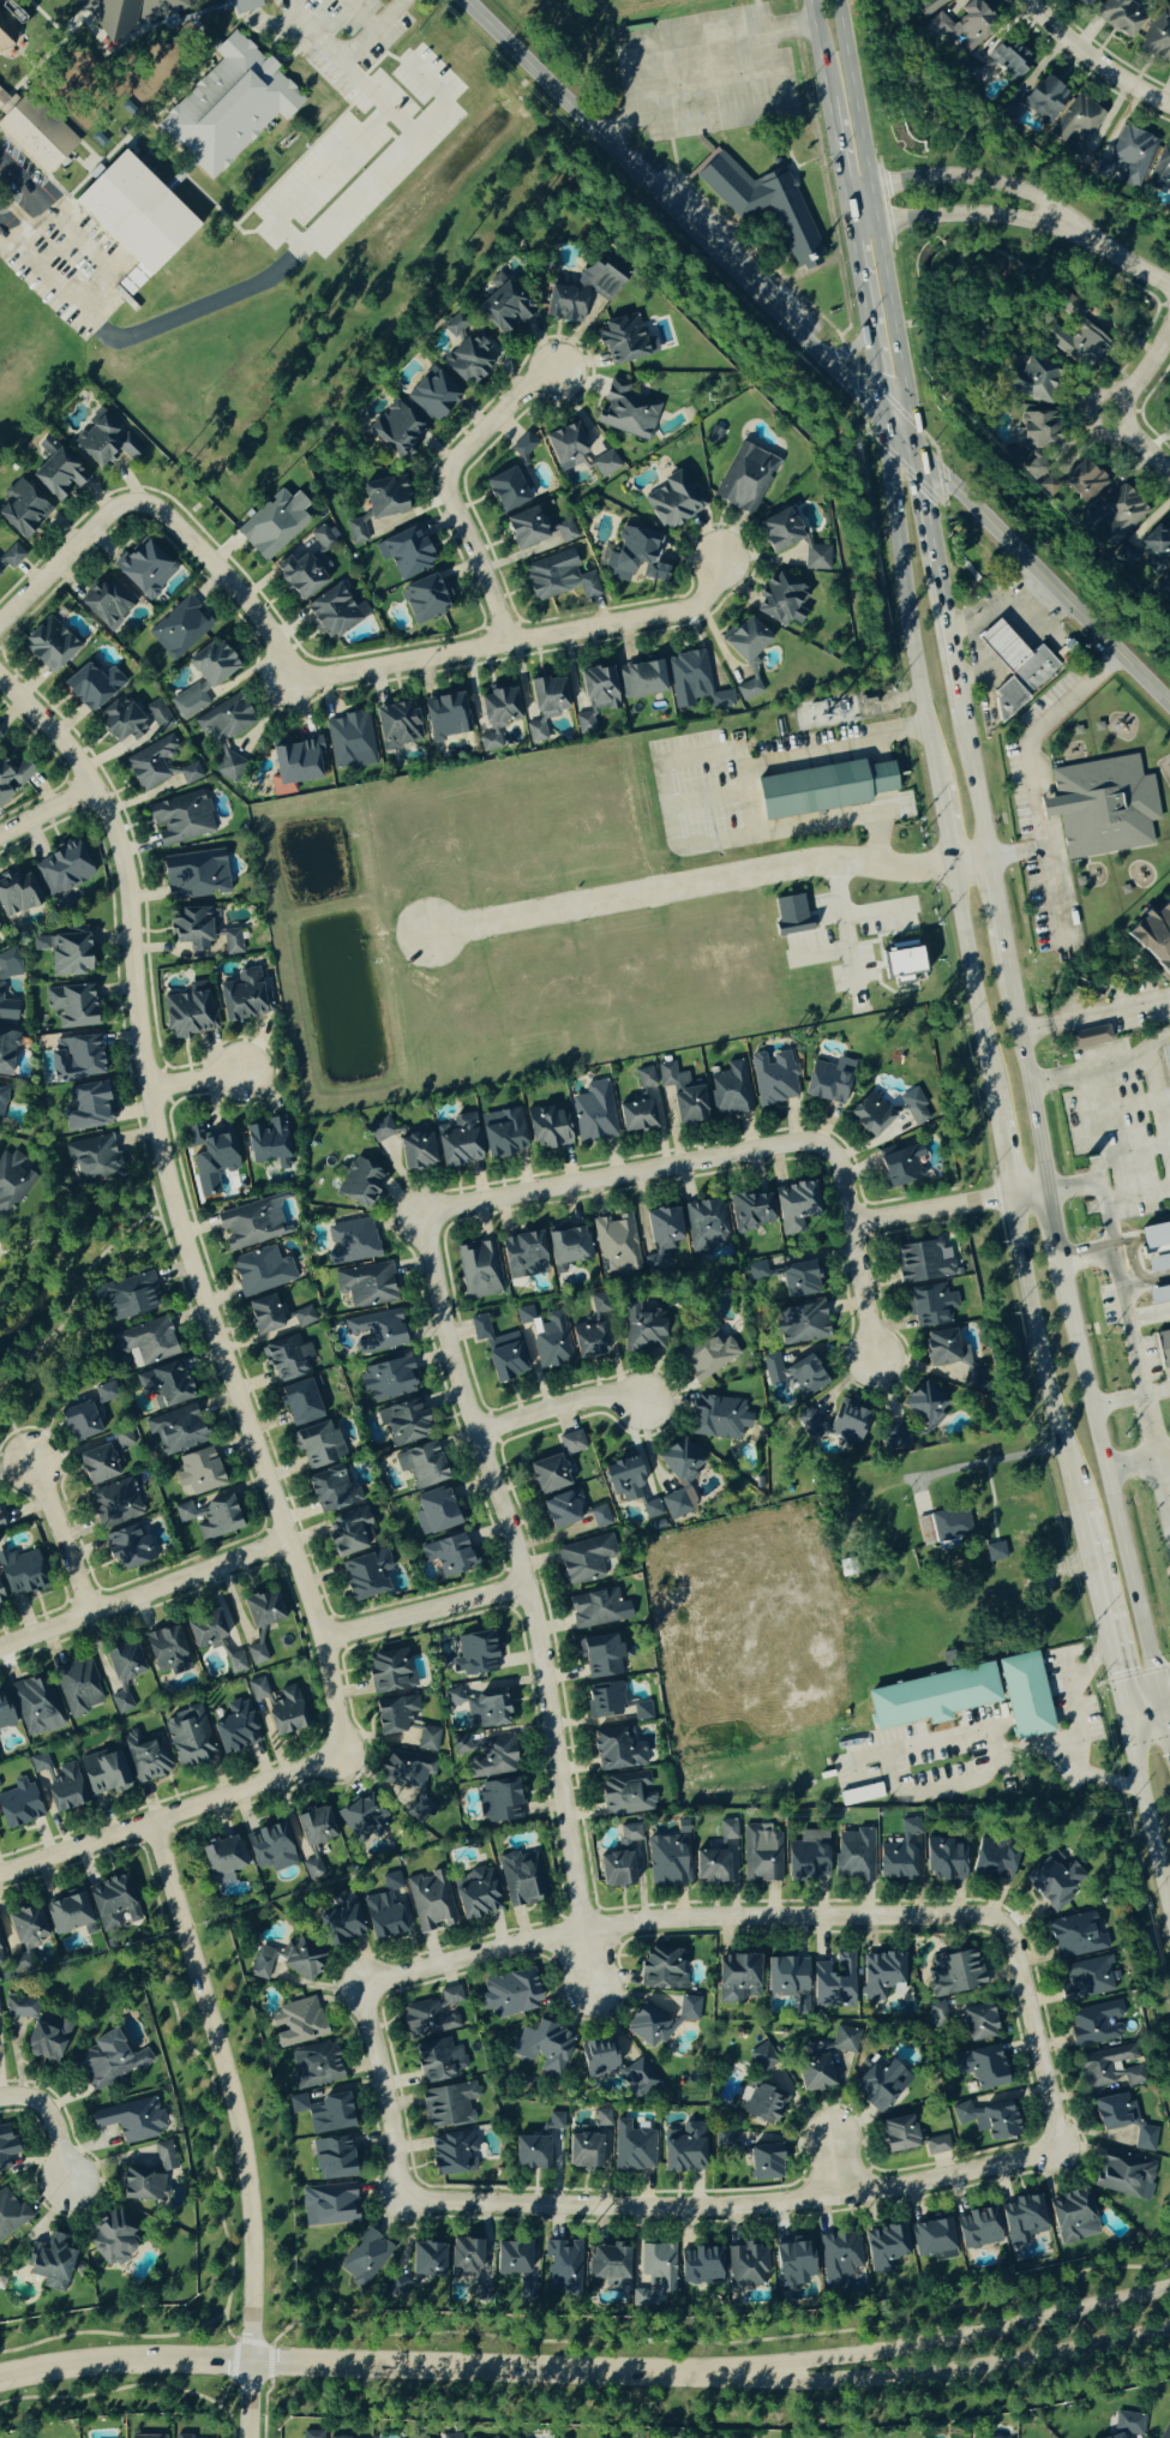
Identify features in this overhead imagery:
building: (1086, 2)
building: (930, 6)
building: (1121, 17)
road: (376, 23)
building: (7, 32)
road: (658, 40)
building: (1157, 40)
road: (329, 46)
road: (820, 53)
building: (1002, 55)
road: (1090, 61)
building: (1044, 98)
road: (748, 107)
building: (1079, 128)
road: (414, 131)
building: (211, 150)
building: (1126, 155)
road: (838, 157)
building: (1160, 169)
road: (314, 172)
road: (970, 178)
road: (30, 194)
building: (762, 202)
road: (673, 206)
road: (965, 215)
road: (850, 223)
road: (877, 223)
road: (83, 247)
road: (1058, 253)
road: (1127, 262)
building: (580, 295)
road: (214, 296)
building: (503, 306)
road: (868, 327)
building: (622, 340)
building: (1076, 343)
road: (846, 349)
building: (468, 360)
park: (23, 365)
building: (1036, 379)
building: (433, 394)
road: (1123, 405)
road: (1090, 409)
building: (626, 411)
traffic signals: (883, 414)
building: (1169, 417)
building: (395, 430)
building: (1038, 430)
road: (900, 431)
building: (104, 441)
building: (565, 445)
building: (523, 447)
traffic signals: (917, 449)
building: (606, 465)
building: (1036, 467)
building: (58, 474)
building: (745, 479)
building: (1082, 479)
road: (445, 489)
building: (509, 489)
building: (385, 497)
building: (671, 502)
building: (23, 509)
building: (1120, 516)
building: (274, 525)
building: (536, 528)
building: (779, 531)
building: (358, 532)
building: (325, 535)
building: (1157, 549)
building: (406, 552)
building: (12, 556)
building: (636, 556)
building: (817, 559)
building: (145, 569)
road: (1044, 576)
building: (559, 577)
road: (941, 581)
building: (1160, 586)
building: (425, 599)
building: (781, 599)
road: (907, 600)
building: (106, 603)
road: (997, 604)
building: (331, 613)
road: (1019, 615)
building: (180, 629)
building: (746, 640)
building: (49, 645)
road: (978, 645)
road: (1014, 645)
building: (1015, 667)
road: (316, 677)
building: (204, 678)
building: (642, 679)
building: (696, 682)
building: (92, 685)
building: (749, 690)
building: (595, 697)
building: (542, 705)
building: (496, 714)
building: (445, 717)
building: (131, 720)
building: (226, 720)
building: (397, 725)
building: (350, 741)
road: (877, 749)
building: (296, 760)
building: (160, 766)
building: (228, 767)
building: (12, 777)
road: (887, 778)
road: (1030, 781)
road: (748, 783)
road: (977, 785)
building: (822, 789)
building: (1102, 807)
road: (46, 809)
road: (886, 814)
building: (180, 819)
road: (944, 825)
road: (1016, 851)
building: (67, 867)
building: (194, 875)
road: (708, 879)
building: (16, 894)
road: (998, 910)
road: (875, 911)
building: (791, 915)
road: (846, 924)
building: (191, 929)
building: (1153, 936)
building: (232, 944)
road: (822, 953)
building: (65, 954)
building: (900, 960)
building: (0, 989)
road: (973, 993)
building: (244, 999)
building: (71, 1006)
building: (188, 1012)
road: (1094, 1012)
building: (1091, 1037)
road: (1153, 1038)
building: (6, 1052)
building: (1166, 1055)
building: (74, 1059)
road: (1087, 1068)
road: (1027, 1076)
building: (774, 1079)
road: (192, 1080)
building: (829, 1082)
building: (732, 1090)
building: (2, 1097)
building: (682, 1097)
road: (1121, 1103)
building: (640, 1106)
building: (88, 1107)
building: (916, 1108)
road: (1158, 1108)
building: (594, 1113)
building: (871, 1115)
road: (1088, 1122)
building: (547, 1128)
building: (380, 1131)
building: (503, 1134)
building: (270, 1143)
building: (458, 1144)
road: (1135, 1148)
building: (210, 1151)
building: (416, 1152)
road: (1003, 1158)
building: (94, 1161)
building: (908, 1163)
road: (630, 1173)
building: (12, 1182)
building: (360, 1184)
road: (1072, 1184)
road: (1136, 1192)
road: (944, 1205)
building: (796, 1206)
road: (173, 1209)
building: (750, 1212)
building: (251, 1226)
building: (707, 1226)
road: (1052, 1226)
building: (1154, 1236)
building: (662, 1238)
road: (1140, 1238)
building: (350, 1242)
building: (568, 1246)
building: (617, 1246)
building: (523, 1257)
road: (1086, 1257)
road: (851, 1259)
building: (923, 1263)
building: (1158, 1263)
building: (479, 1270)
building: (760, 1271)
road: (1136, 1271)
building: (262, 1272)
building: (798, 1281)
road: (1154, 1281)
building: (366, 1286)
building: (1159, 1295)
building: (128, 1298)
building: (931, 1307)
building: (598, 1308)
building: (264, 1316)
road: (1148, 1316)
building: (304, 1317)
road: (1033, 1319)
building: (802, 1323)
building: (640, 1329)
building: (377, 1331)
road: (1132, 1336)
building: (547, 1337)
building: (590, 1341)
building: (146, 1342)
building: (1163, 1346)
building: (499, 1352)
building: (709, 1356)
building: (284, 1359)
building: (948, 1361)
building: (794, 1374)
building: (388, 1380)
building: (166, 1385)
building: (107, 1392)
road: (1130, 1397)
building: (300, 1403)
road: (556, 1406)
building: (924, 1406)
building: (719, 1418)
building: (78, 1422)
building: (403, 1424)
building: (838, 1424)
building: (175, 1431)
building: (895, 1439)
building: (571, 1443)
building: (317, 1445)
road: (988, 1458)
building: (96, 1466)
building: (421, 1466)
road: (1133, 1466)
building: (199, 1473)
building: (548, 1475)
building: (679, 1476)
building: (623, 1479)
road: (1069, 1479)
building: (331, 1491)
road: (1169, 1496)
building: (114, 1503)
building: (652, 1510)
road: (1115, 1510)
building: (559, 1511)
building: (434, 1512)
building: (600, 1517)
building: (210, 1518)
building: (952, 1526)
building: (0, 1528)
building: (349, 1533)
road: (58, 1537)
building: (127, 1547)
building: (992, 1552)
building: (451, 1556)
building: (584, 1559)
building: (19, 1574)
building: (365, 1576)
road: (143, 1593)
road: (521, 1597)
building: (0, 1600)
building: (599, 1610)
building: (262, 1611)
road: (420, 1612)
road: (1104, 1624)
building: (206, 1631)
building: (166, 1651)
building: (479, 1653)
building: (257, 1655)
building: (602, 1658)
building: (124, 1663)
building: (236, 1664)
building: (390, 1670)
traffic signals: (1115, 1671)
building: (78, 1687)
road: (1162, 1690)
building: (1025, 1696)
road: (1138, 1696)
building: (454, 1697)
building: (931, 1699)
building: (604, 1700)
building: (121, 1703)
building: (36, 1707)
building: (278, 1708)
building: (488, 1711)
building: (642, 1712)
building: (394, 1715)
road: (1079, 1726)
building: (235, 1729)
road: (1150, 1731)
building: (190, 1738)
building: (428, 1739)
road: (916, 1741)
building: (617, 1750)
traffic signals: (1169, 1753)
building: (145, 1757)
building: (486, 1757)
building: (40, 1763)
building: (102, 1773)
building: (406, 1780)
building: (65, 1790)
building: (626, 1795)
building: (497, 1802)
building: (18, 1804)
road: (169, 1815)
road: (1150, 1825)
building: (727, 1833)
building: (311, 1838)
building: (270, 1849)
building: (761, 1855)
building: (899, 1855)
building: (223, 1856)
building: (808, 1856)
building: (854, 1856)
building: (994, 1858)
building: (620, 1859)
building: (666, 1859)
building: (944, 1859)
building: (710, 1867)
building: (521, 1879)
building: (1052, 1879)
building: (476, 1894)
building: (112, 1903)
building: (430, 1904)
building: (384, 1909)
building: (68, 1913)
road: (677, 1921)
building: (340, 1924)
building: (24, 1934)
building: (1078, 1936)
building: (0, 1960)
building: (286, 1960)
building: (661, 1969)
building: (955, 1973)
building: (881, 1975)
building: (786, 1976)
building: (738, 1977)
building: (1087, 1979)
building: (834, 1982)
building: (511, 1994)
building: (938, 2014)
building: (660, 2020)
building: (298, 2023)
building: (978, 2023)
building: (1096, 2024)
building: (41, 2031)
road: (1034, 2039)
building: (545, 2047)
building: (598, 2056)
building: (763, 2059)
building: (108, 2061)
building: (438, 2061)
building: (828, 2063)
building: (314, 2066)
building: (986, 2068)
building: (1111, 2068)
building: (638, 2078)
building: (881, 2084)
road: (385, 2092)
building: (449, 2105)
building: (766, 2105)
building: (1112, 2111)
building: (323, 2113)
building: (602, 2119)
building: (988, 2119)
building: (131, 2120)
road: (50, 2122)
road: (236, 2123)
building: (899, 2134)
building: (724, 2139)
building: (1146, 2139)
building: (936, 2145)
building: (6, 2146)
building: (538, 2146)
building: (634, 2148)
building: (683, 2149)
building: (583, 2151)
building: (452, 2152)
building: (332, 2158)
building: (763, 2162)
road: (835, 2168)
building: (1126, 2175)
building: (148, 2176)
road: (731, 2204)
building: (329, 2205)
building: (11, 2215)
building: (1073, 2217)
building: (1024, 2218)
building: (978, 2228)
building: (934, 2238)
building: (110, 2239)
building: (884, 2247)
building: (464, 2256)
building: (840, 2256)
building: (365, 2258)
building: (512, 2258)
building: (427, 2260)
building: (50, 2262)
building: (793, 2263)
building: (608, 2265)
building: (701, 2266)
building: (748, 2266)
building: (563, 2268)
building: (658, 2269)
road: (955, 2332)
road: (368, 2361)
road: (955, 2364)
building: (1128, 2425)
building: (1165, 2431)
building: (312, 2434)
building: (451, 2436)
building: (145, 2437)
building: (181, 2437)
building: (338, 2437)

